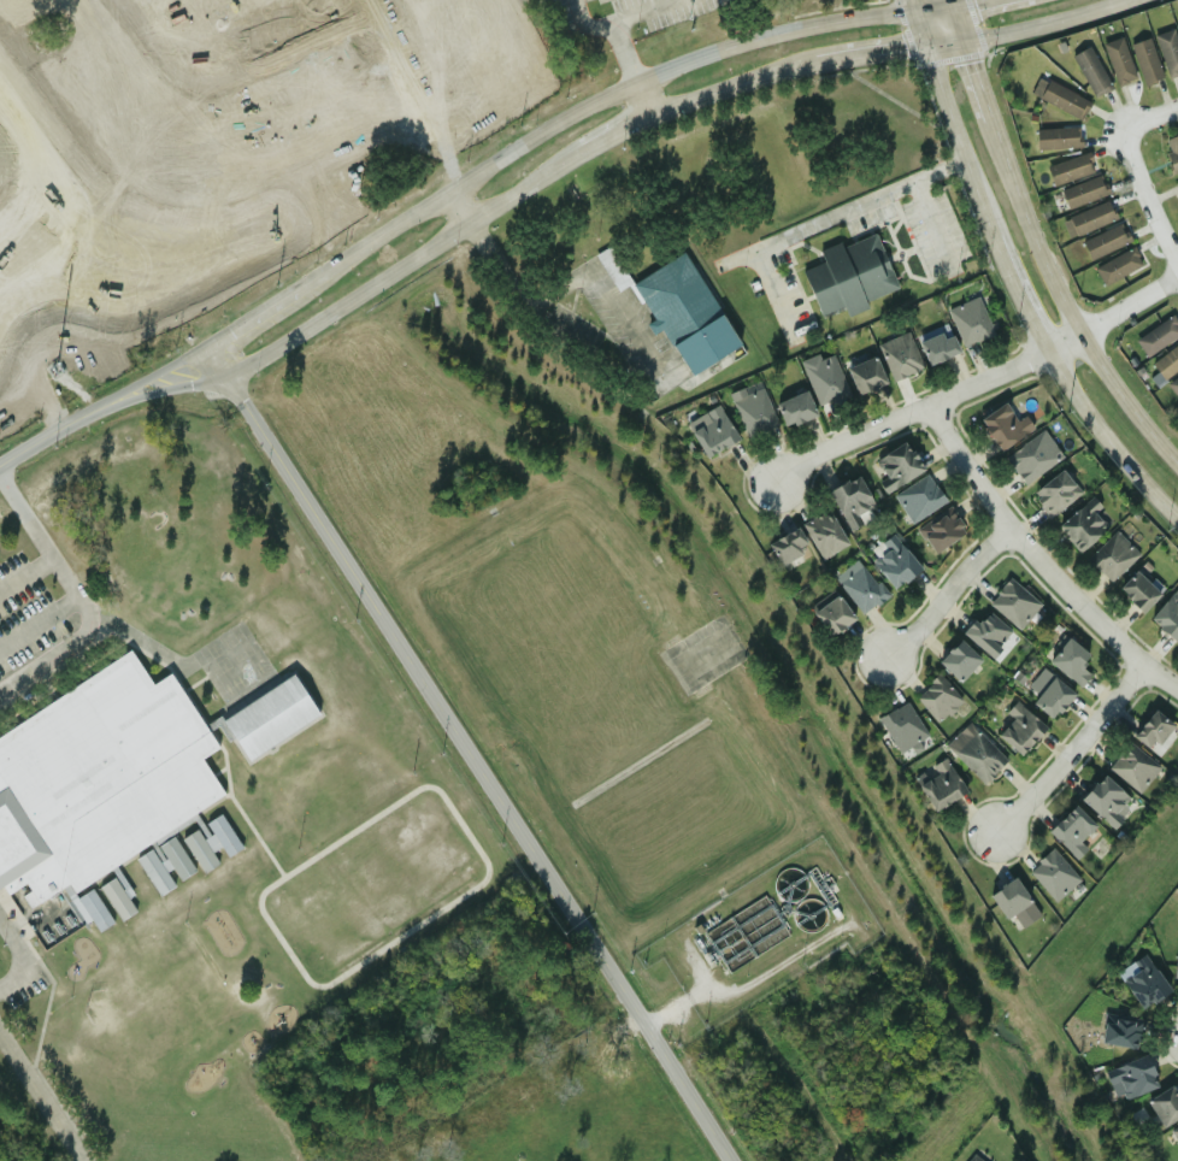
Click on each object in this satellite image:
road: (984, 5)
traffic signals: (984, 6)
road: (924, 7)
road: (646, 12)
road: (961, 17)
road: (1025, 23)
road: (599, 24)
road: (381, 42)
traffic signals: (901, 43)
road: (874, 46)
building: (1168, 51)
building: (1118, 60)
traffic signals: (977, 61)
building: (1145, 61)
road: (630, 65)
building: (1090, 70)
road: (980, 73)
road: (730, 81)
road: (399, 87)
road: (611, 100)
building: (1064, 100)
road: (644, 101)
road: (1149, 117)
road: (962, 125)
road: (615, 130)
road: (420, 134)
building: (1058, 139)
building: (1172, 152)
building: (1070, 167)
building: (1177, 182)
road: (528, 183)
building: (1177, 183)
building: (1083, 191)
road: (1144, 200)
road: (466, 207)
road: (827, 218)
building: (1088, 218)
road: (933, 220)
road: (441, 240)
building: (1105, 241)
building: (1117, 266)
building: (848, 276)
road: (559, 288)
road: (1023, 293)
road: (1066, 296)
road: (1131, 303)
building: (677, 308)
road: (319, 320)
building: (970, 320)
road: (259, 323)
building: (1159, 332)
building: (937, 343)
building: (900, 355)
building: (1167, 361)
road: (184, 365)
building: (865, 375)
road: (190, 376)
building: (824, 377)
building: (1174, 384)
road: (931, 408)
building: (795, 409)
building: (754, 412)
road: (77, 420)
building: (1005, 425)
building: (713, 432)
road: (1106, 440)
building: (1032, 456)
building: (897, 466)
building: (1054, 493)
building: (918, 497)
building: (853, 503)
building: (1085, 524)
building: (941, 530)
building: (824, 534)
building: (788, 548)
building: (1112, 555)
building: (894, 561)
road: (1037, 562)
road: (28, 574)
building: (859, 585)
building: (1137, 590)
road: (79, 596)
road: (946, 596)
building: (1013, 603)
building: (832, 614)
building: (1167, 615)
road: (40, 621)
building: (988, 633)
building: (959, 659)
building: (1070, 660)
building: (937, 697)
building: (1052, 697)
building: (266, 717)
building: (901, 726)
building: (1019, 726)
building: (1153, 730)
road: (1073, 748)
road: (471, 754)
building: (977, 754)
building: (1132, 766)
building: (100, 774)
building: (941, 785)
building: (1107, 801)
building: (1071, 830)
building: (213, 832)
building: (199, 850)
building: (175, 858)
building: (153, 872)
building: (1053, 874)
building: (117, 896)
building: (1009, 897)
building: (88, 908)
road: (30, 953)
building: (1176, 966)
road: (748, 980)
building: (1144, 983)
building: (1121, 1031)
building: (1131, 1078)
road: (43, 1092)
building: (1165, 1106)
building: (1174, 1132)
building: (972, 1159)

